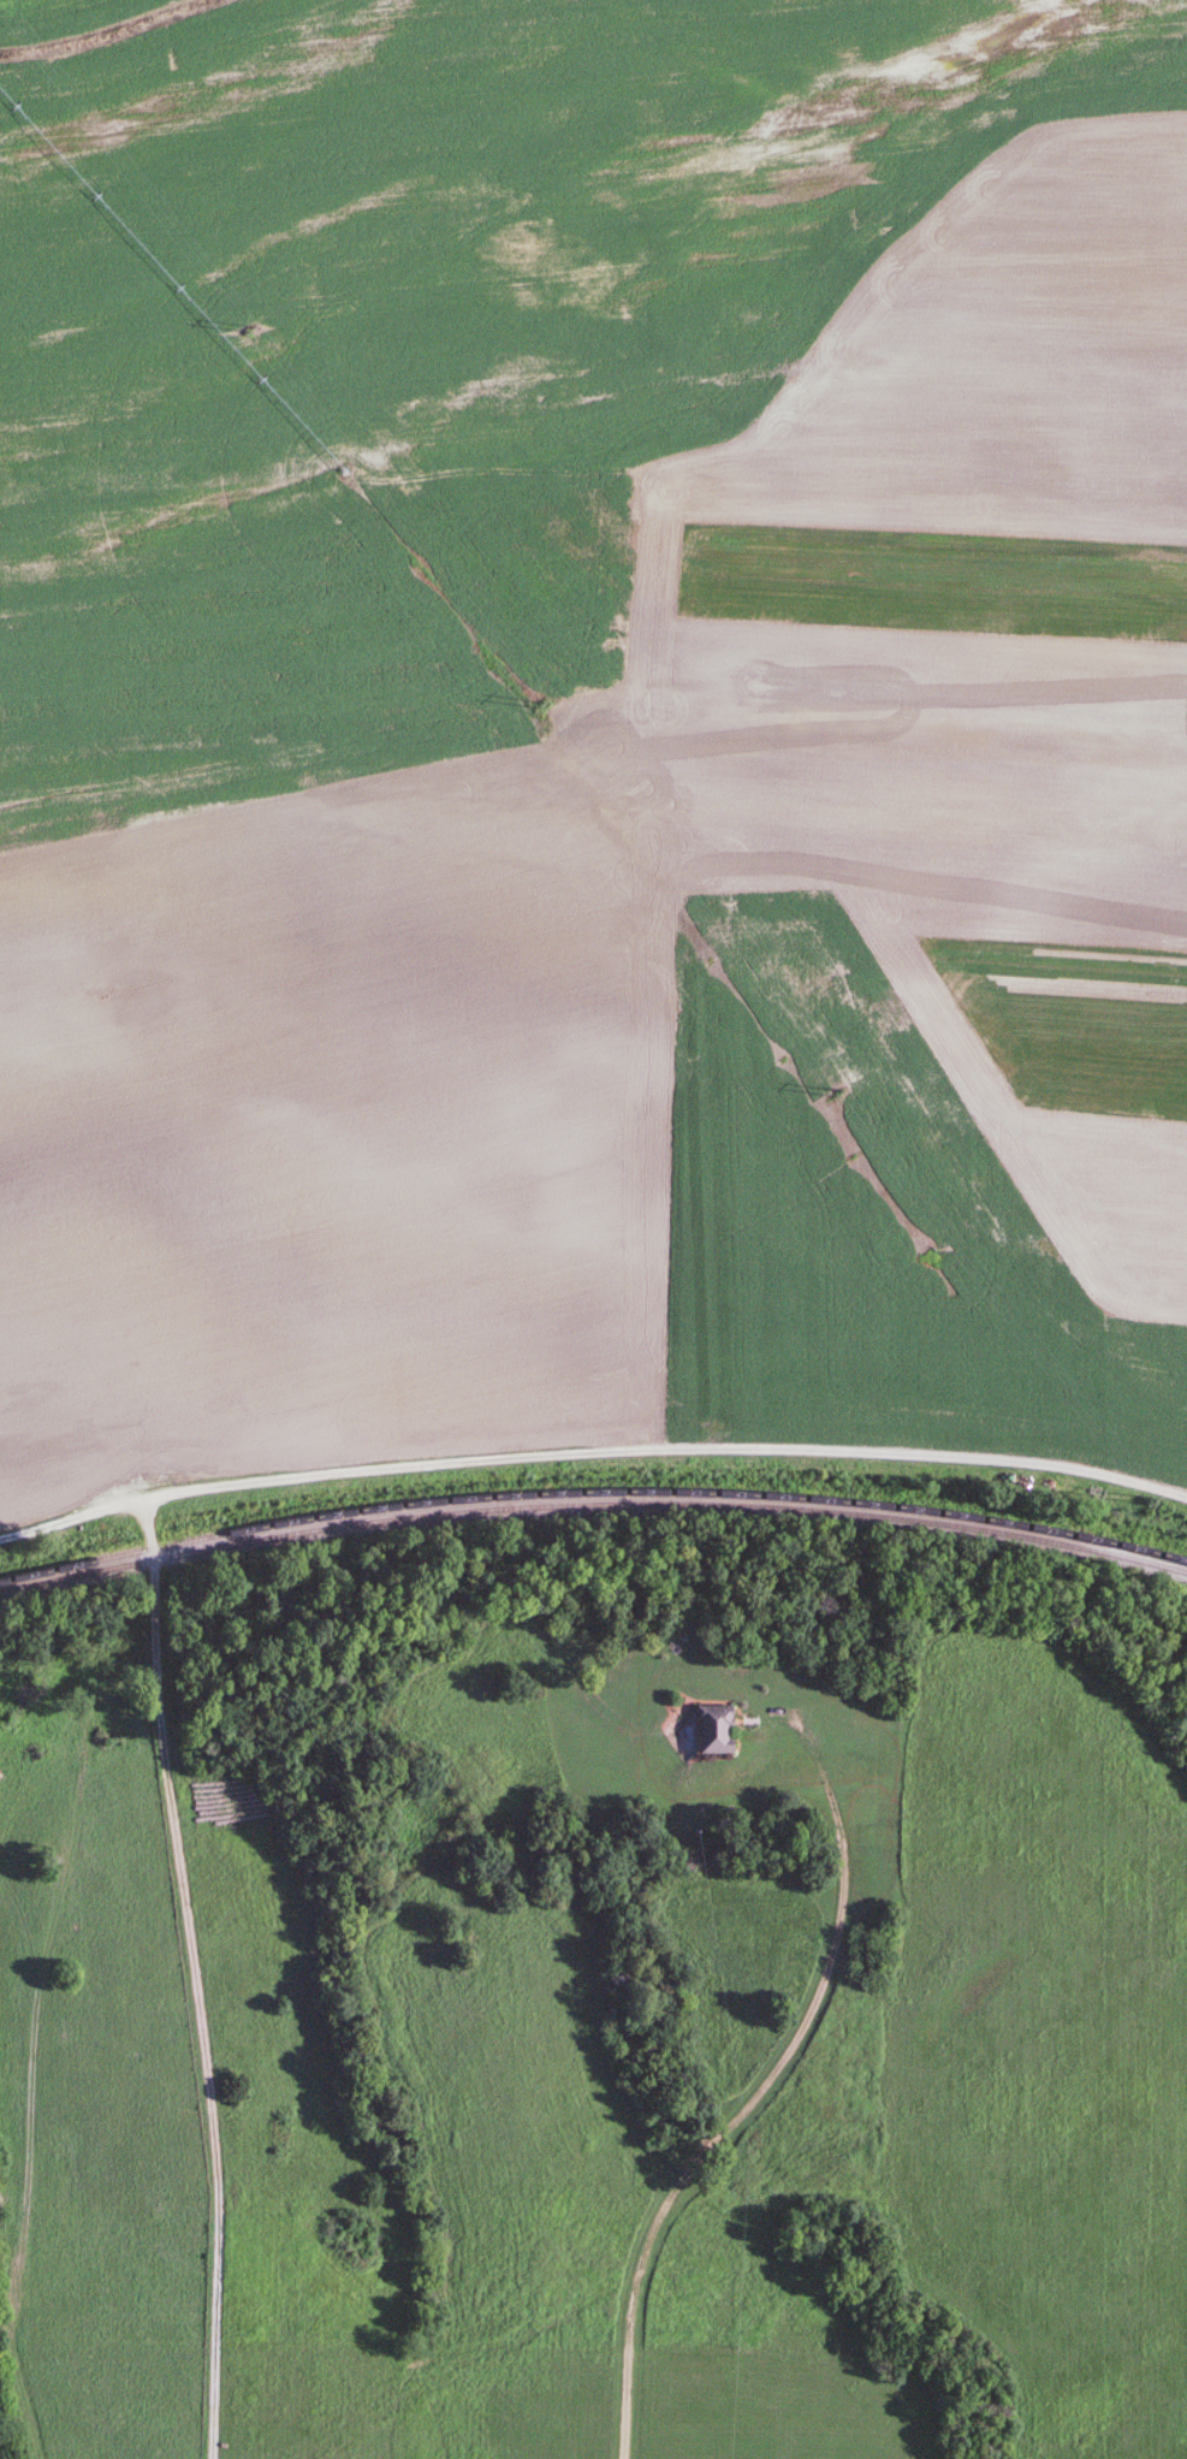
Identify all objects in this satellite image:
railway: (592, 1491)
railway: (592, 1501)
building: (722, 1728)
road: (46, 1973)
road: (732, 2116)

